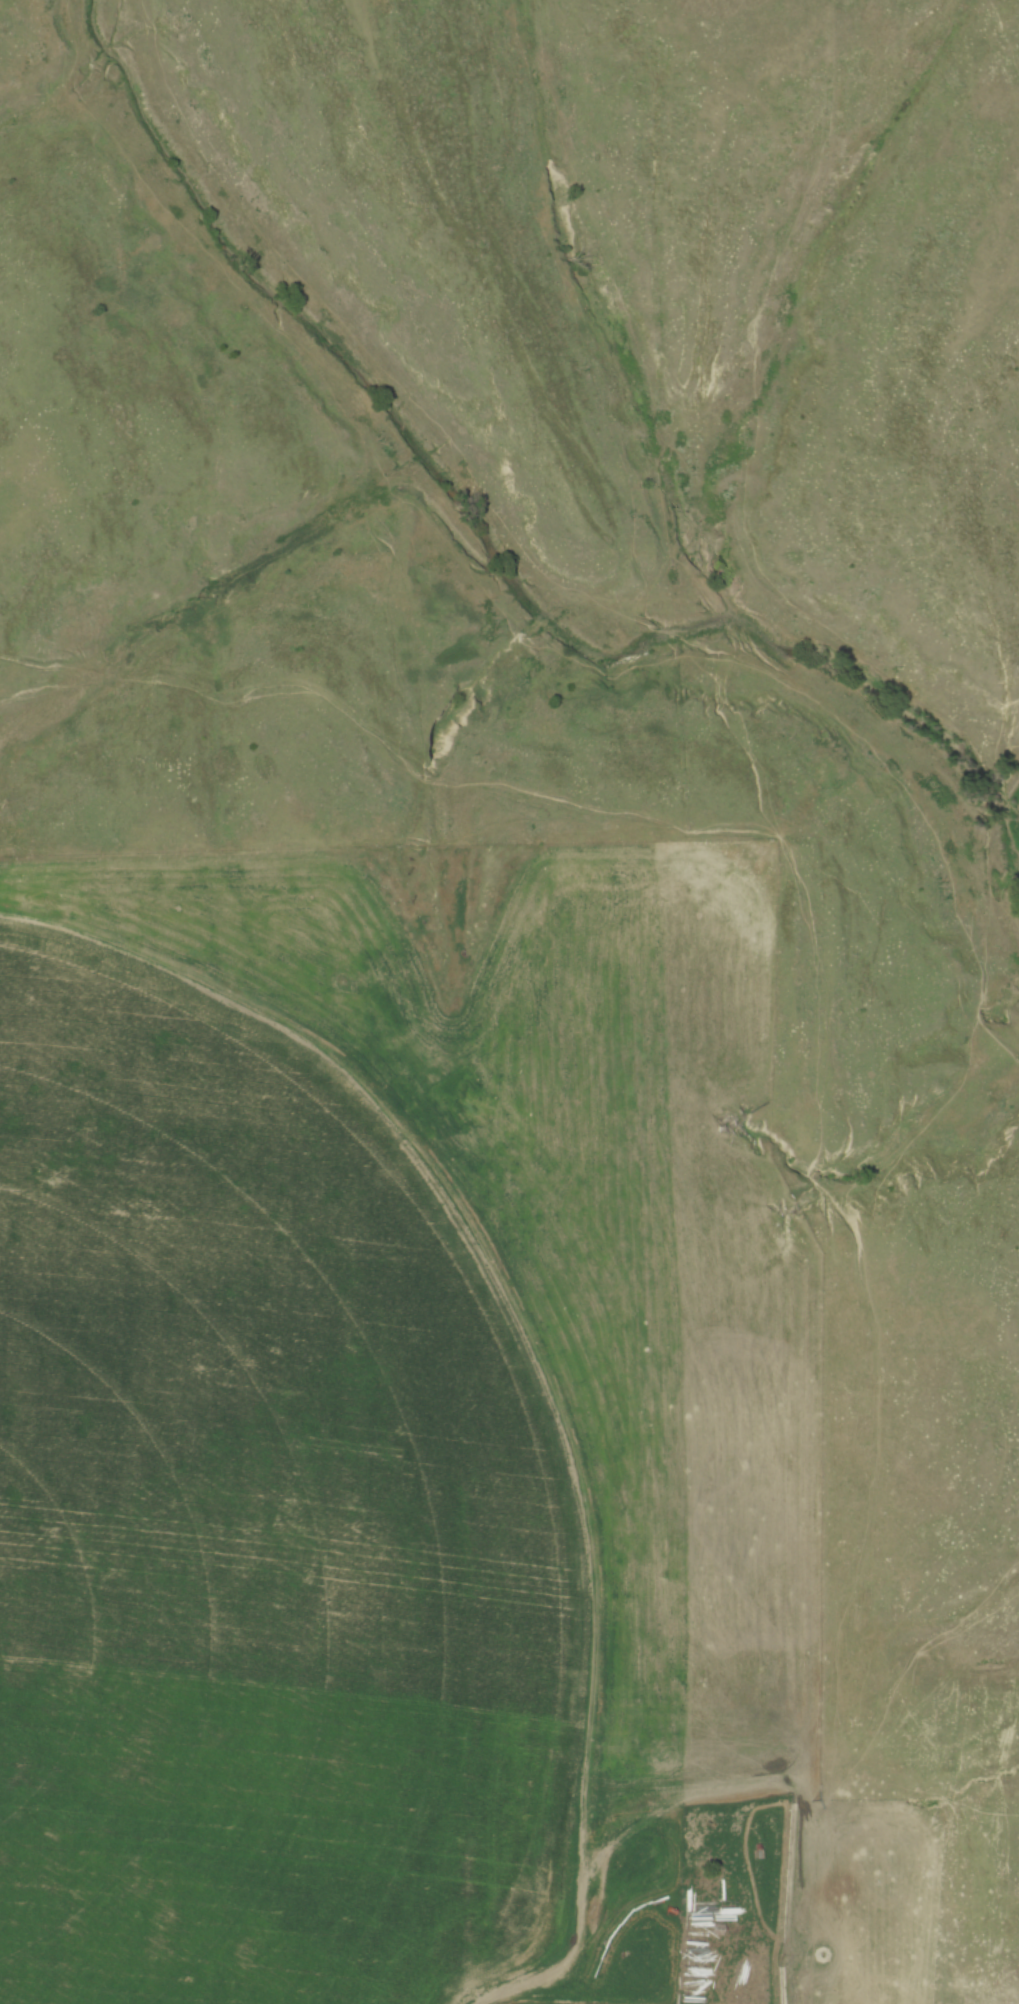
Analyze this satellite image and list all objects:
building: (698, 1948)
building: (695, 1996)

